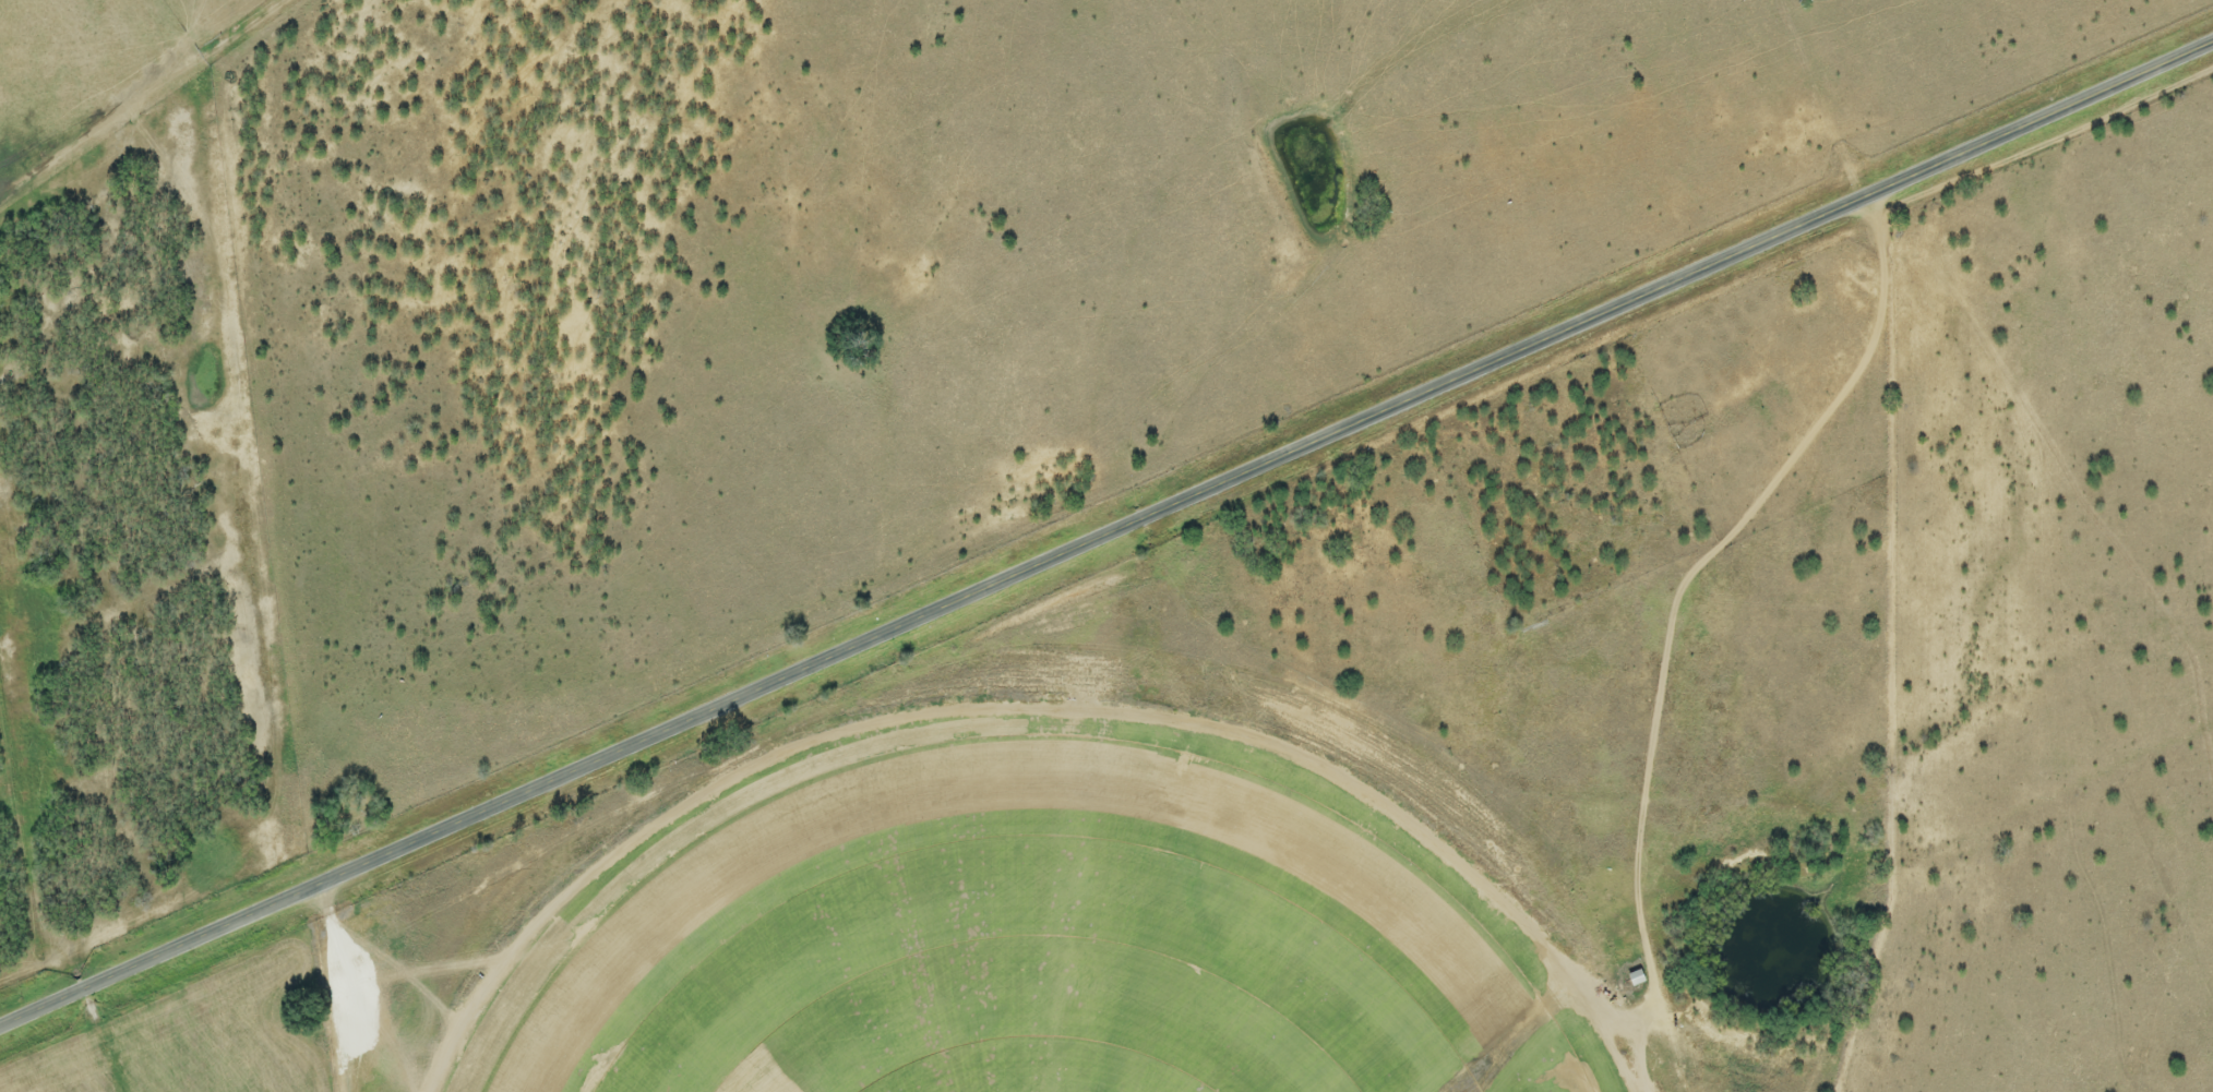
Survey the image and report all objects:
road: (1105, 531)
road: (1692, 566)
road: (339, 986)

